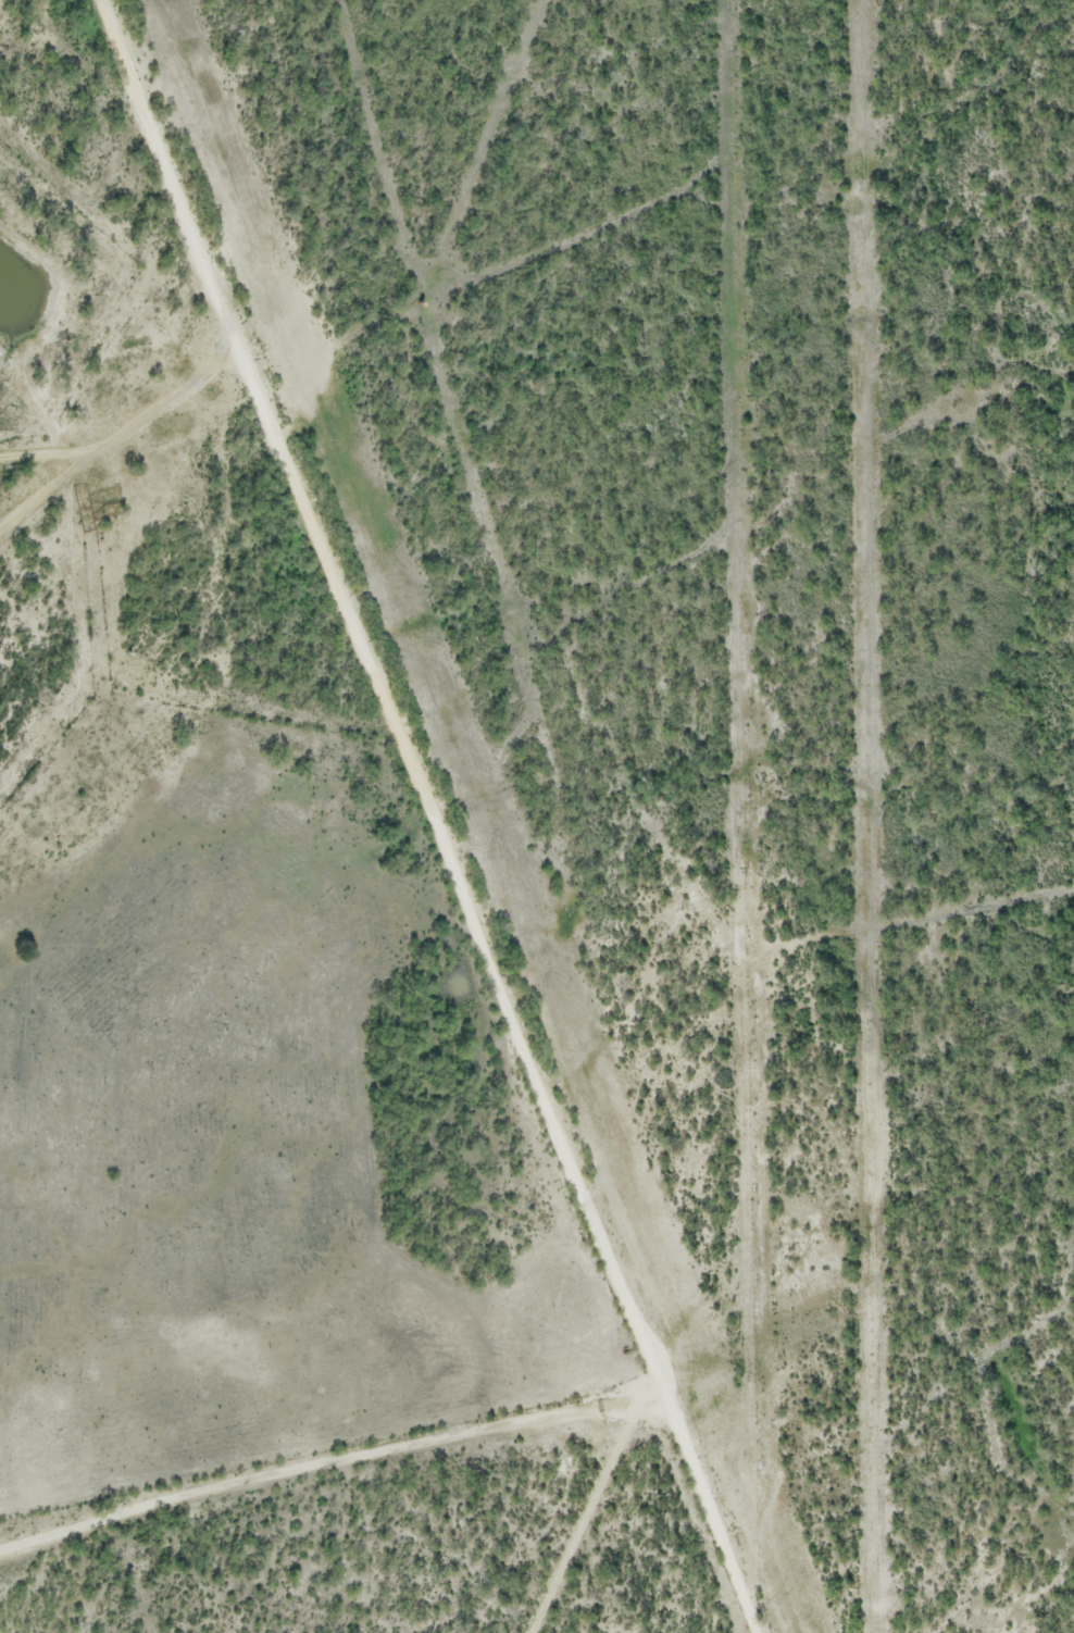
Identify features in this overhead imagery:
road: (428, 816)

